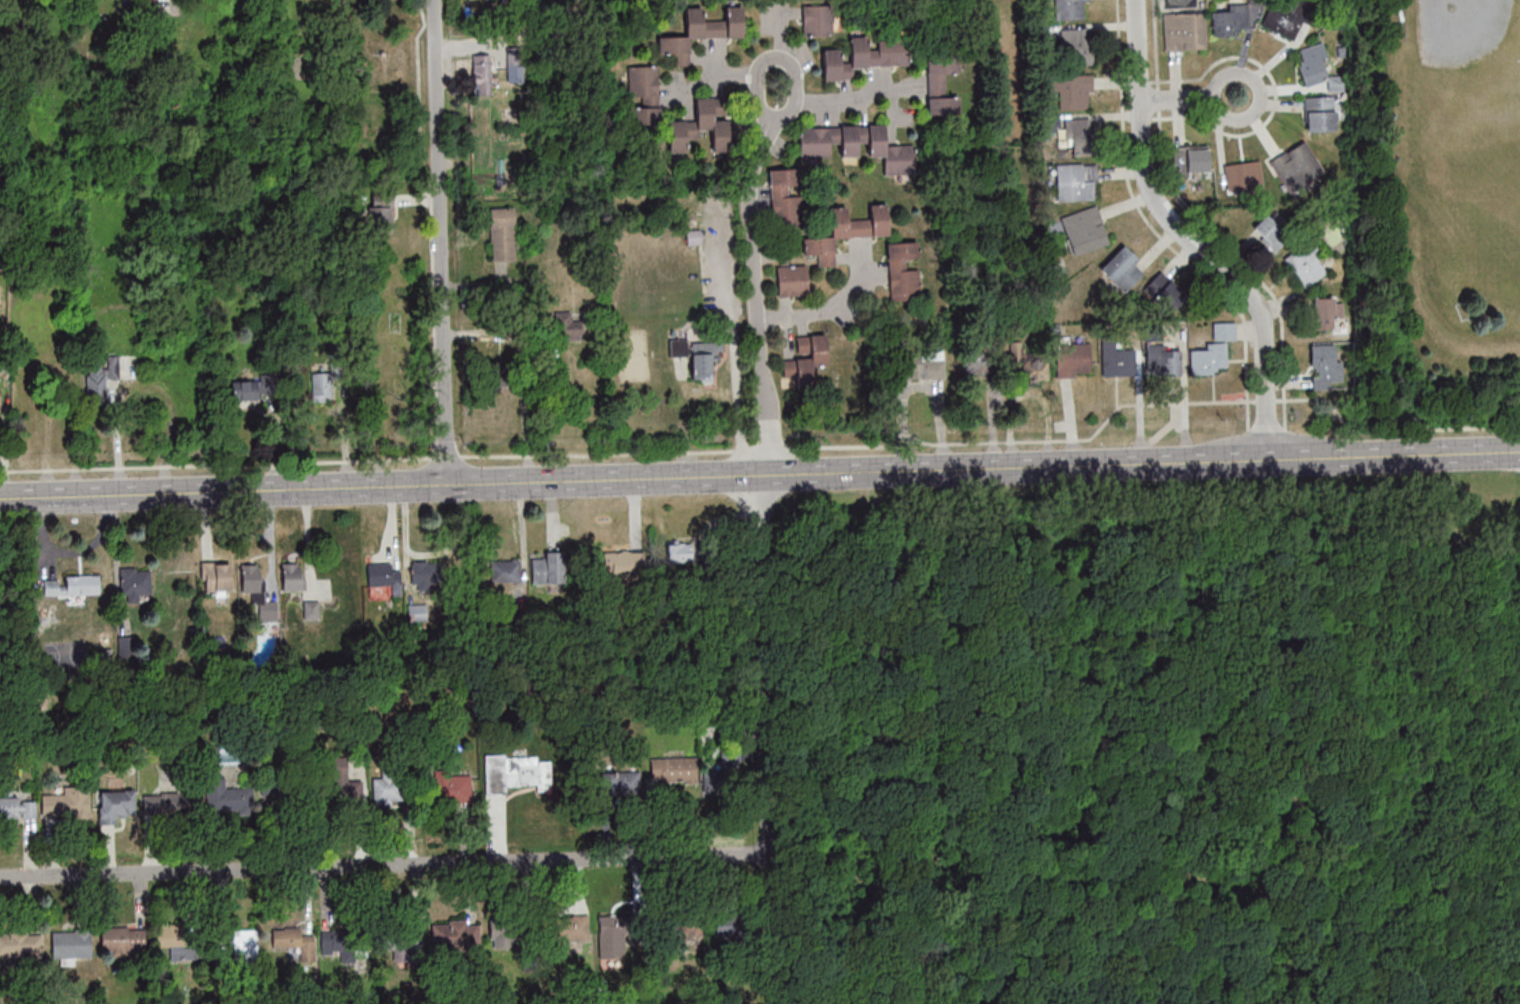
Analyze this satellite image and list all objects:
building: (1071, 9)
building: (1232, 19)
building: (817, 20)
building: (1280, 24)
building: (1183, 31)
building: (701, 32)
building: (1075, 47)
road: (788, 55)
building: (864, 58)
building: (1312, 64)
road: (708, 79)
building: (482, 80)
building: (940, 86)
building: (1073, 91)
building: (644, 94)
road: (1193, 97)
road: (759, 104)
road: (847, 107)
building: (1320, 113)
building: (1077, 128)
building: (704, 129)
building: (815, 142)
building: (848, 142)
building: (889, 153)
building: (1190, 158)
building: (1295, 165)
building: (1242, 175)
building: (1076, 183)
building: (784, 194)
building: (381, 212)
building: (1084, 230)
building: (846, 232)
building: (1271, 232)
building: (502, 234)
building: (694, 236)
road: (1187, 239)
road: (440, 241)
building: (1306, 265)
building: (1122, 268)
building: (904, 271)
road: (751, 281)
building: (792, 282)
building: (1163, 294)
building: (1324, 312)
road: (829, 313)
building: (571, 327)
building: (1223, 331)
road: (734, 339)
building: (696, 356)
building: (1072, 358)
building: (1209, 358)
building: (806, 359)
building: (1117, 359)
building: (1162, 359)
building: (982, 360)
building: (1027, 362)
building: (921, 365)
building: (1324, 367)
building: (106, 374)
building: (322, 386)
building: (244, 390)
building: (0, 400)
road: (549, 417)
road: (760, 475)
building: (681, 552)
building: (619, 564)
building: (547, 567)
building: (504, 570)
building: (425, 572)
building: (383, 575)
building: (293, 576)
building: (221, 578)
building: (73, 585)
building: (134, 586)
building: (257, 591)
building: (311, 609)
building: (417, 612)
building: (266, 643)
building: (718, 648)
building: (666, 651)
building: (421, 690)
road: (762, 740)
building: (738, 768)
building: (673, 769)
building: (528, 772)
building: (617, 783)
building: (340, 786)
building: (449, 788)
building: (387, 791)
building: (227, 797)
building: (279, 797)
road: (860, 798)
building: (169, 803)
building: (65, 805)
building: (117, 805)
building: (17, 808)
road: (1219, 849)
road: (384, 864)
building: (574, 928)
building: (785, 928)
building: (684, 929)
building: (613, 930)
road: (1477, 934)
building: (508, 935)
building: (729, 936)
building: (452, 937)
building: (122, 939)
building: (179, 941)
building: (296, 941)
building: (339, 944)
building: (401, 944)
building: (21, 945)
building: (71, 945)
building: (244, 945)
road: (921, 995)

